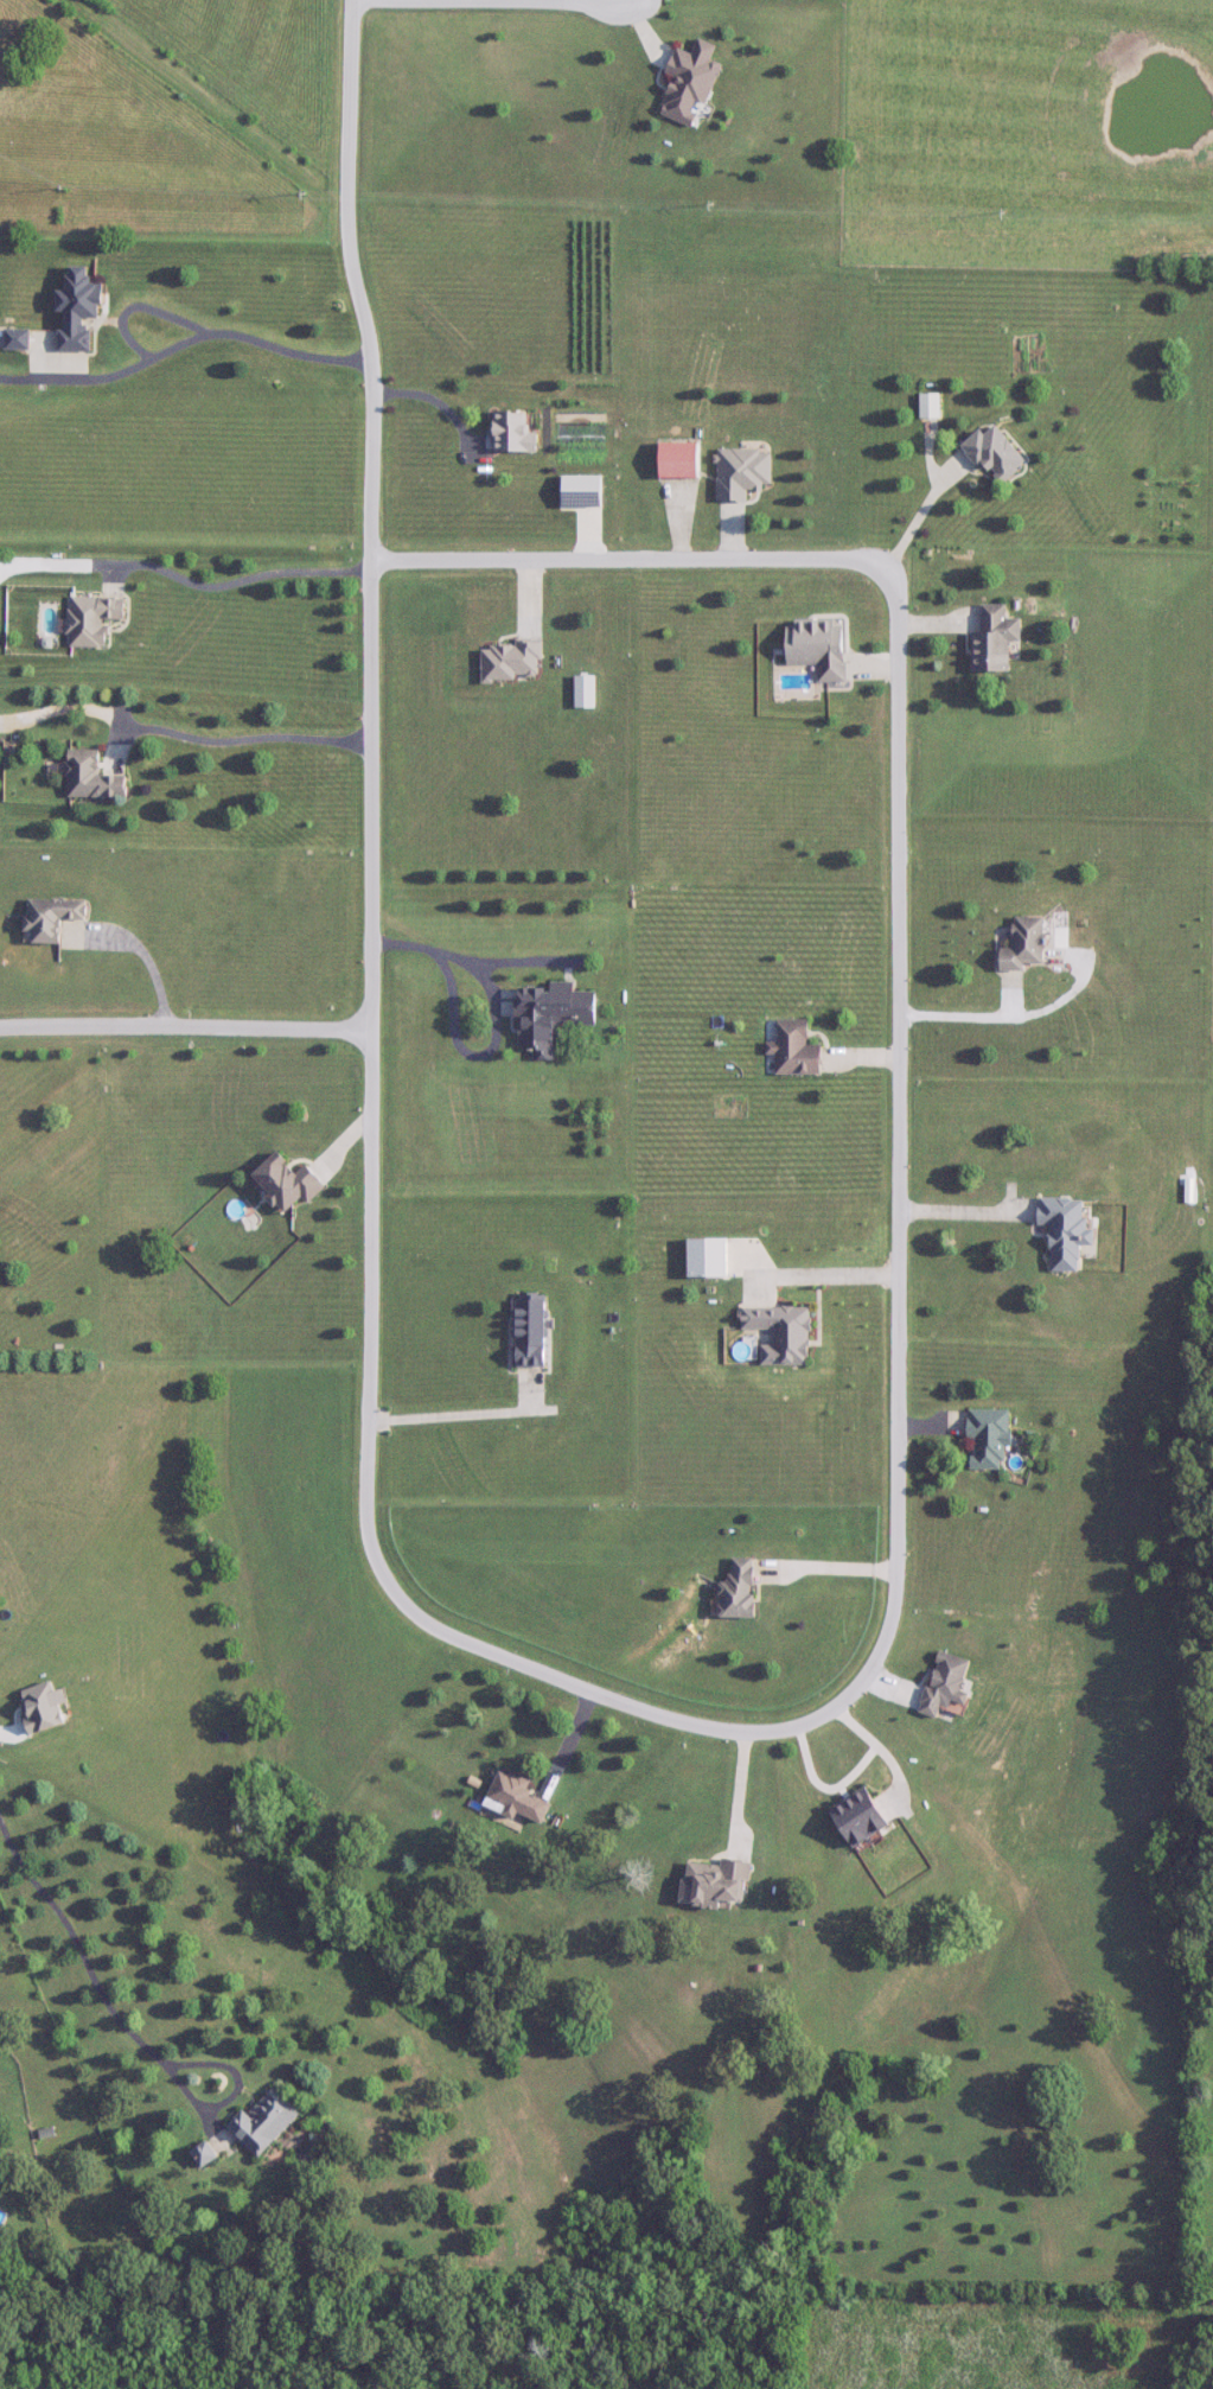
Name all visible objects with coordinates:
road: (496, 0)
building: (689, 83)
building: (76, 311)
building: (15, 340)
road: (203, 340)
building: (928, 407)
building: (512, 433)
building: (992, 455)
building: (676, 461)
building: (741, 473)
road: (921, 510)
road: (634, 559)
road: (186, 580)
building: (94, 619)
building: (992, 641)
building: (816, 649)
building: (510, 662)
road: (231, 745)
building: (94, 777)
road: (375, 859)
road: (899, 885)
building: (53, 917)
building: (1022, 944)
building: (550, 1015)
road: (494, 1019)
road: (186, 1027)
building: (794, 1049)
building: (286, 1183)
building: (1064, 1231)
building: (780, 1332)
building: (528, 1333)
road: (457, 1415)
building: (988, 1439)
road: (831, 1569)
building: (736, 1591)
road: (888, 1644)
building: (945, 1686)
road: (738, 1792)
building: (516, 1798)
building: (856, 1817)
building: (714, 1882)
road: (77, 1948)
road: (232, 2091)
building: (263, 2123)
building: (203, 2155)
road: (2, 2388)

